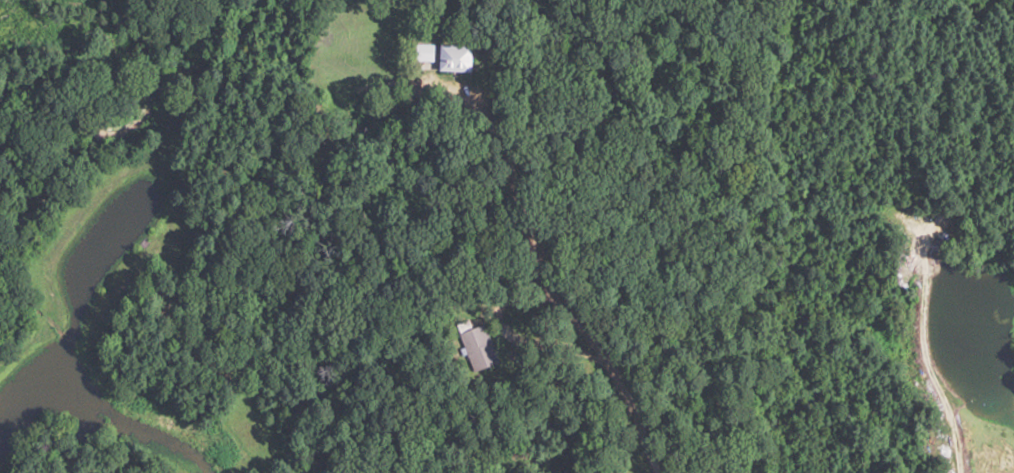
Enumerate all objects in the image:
building: (443, 57)
building: (475, 344)
road: (647, 460)

